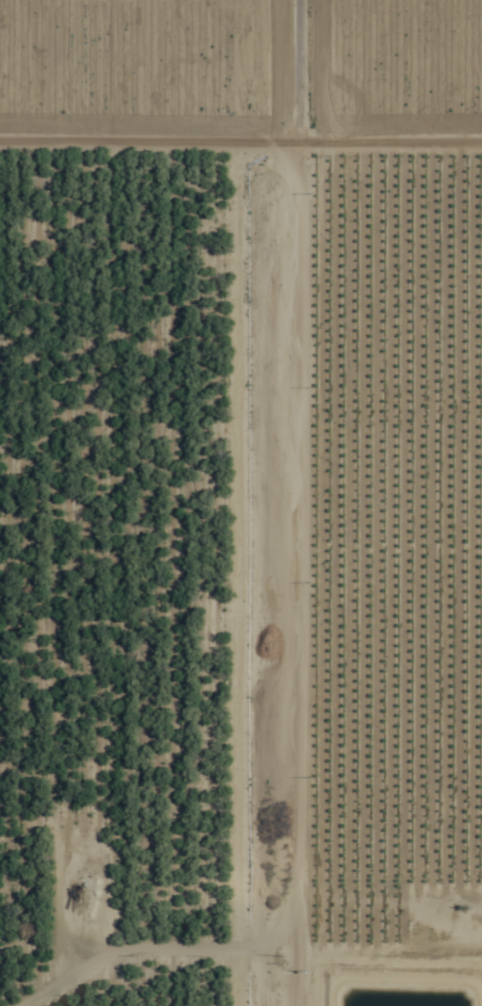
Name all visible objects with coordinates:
crop: (241, 78)
road: (240, 97)
road: (259, 502)

